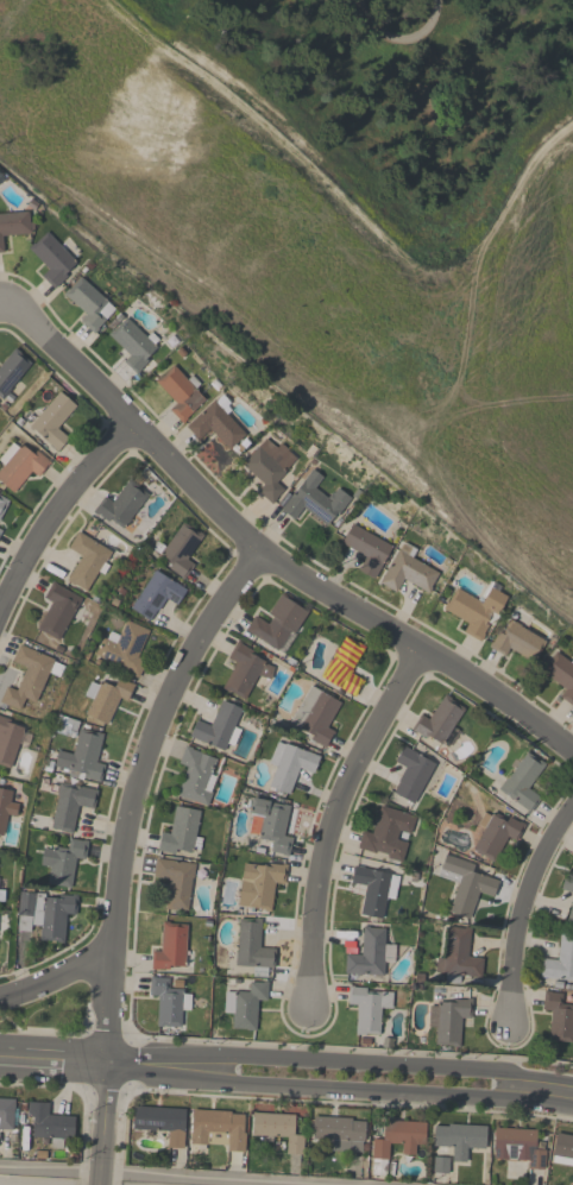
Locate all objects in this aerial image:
road: (478, 12)
road: (397, 39)
road: (352, 201)
building: (14, 225)
building: (52, 259)
building: (89, 303)
road: (11, 314)
building: (133, 342)
building: (11, 371)
building: (181, 391)
building: (53, 420)
building: (215, 424)
building: (19, 465)
building: (269, 466)
building: (313, 499)
building: (2, 504)
building: (121, 504)
road: (56, 513)
building: (0, 530)
building: (365, 548)
building: (178, 549)
building: (87, 560)
road: (275, 563)
building: (408, 571)
building: (157, 594)
building: (477, 609)
building: (58, 610)
building: (279, 623)
building: (517, 641)
building: (125, 648)
building: (344, 666)
building: (245, 669)
building: (561, 674)
building: (30, 675)
building: (106, 696)
building: (315, 714)
building: (440, 721)
building: (65, 723)
building: (218, 725)
building: (10, 740)
building: (83, 756)
building: (289, 764)
building: (414, 774)
building: (195, 775)
building: (520, 782)
building: (70, 803)
building: (6, 807)
road: (332, 821)
building: (270, 822)
building: (181, 832)
building: (388, 832)
building: (493, 833)
road: (124, 850)
building: (63, 862)
building: (175, 881)
building: (567, 882)
building: (262, 883)
building: (465, 883)
building: (373, 889)
road: (522, 910)
building: (45, 913)
building: (571, 913)
building: (170, 946)
building: (253, 947)
building: (370, 953)
building: (459, 954)
building: (560, 959)
road: (56, 981)
building: (168, 1002)
building: (247, 1004)
building: (369, 1007)
building: (559, 1016)
building: (448, 1020)
road: (53, 1059)
road: (340, 1061)
road: (339, 1089)
building: (6, 1112)
building: (162, 1121)
building: (50, 1123)
building: (218, 1128)
building: (278, 1129)
building: (340, 1132)
building: (460, 1137)
building: (396, 1141)
building: (518, 1146)
building: (562, 1148)
building: (441, 1164)
road: (160, 1174)
road: (97, 1183)

